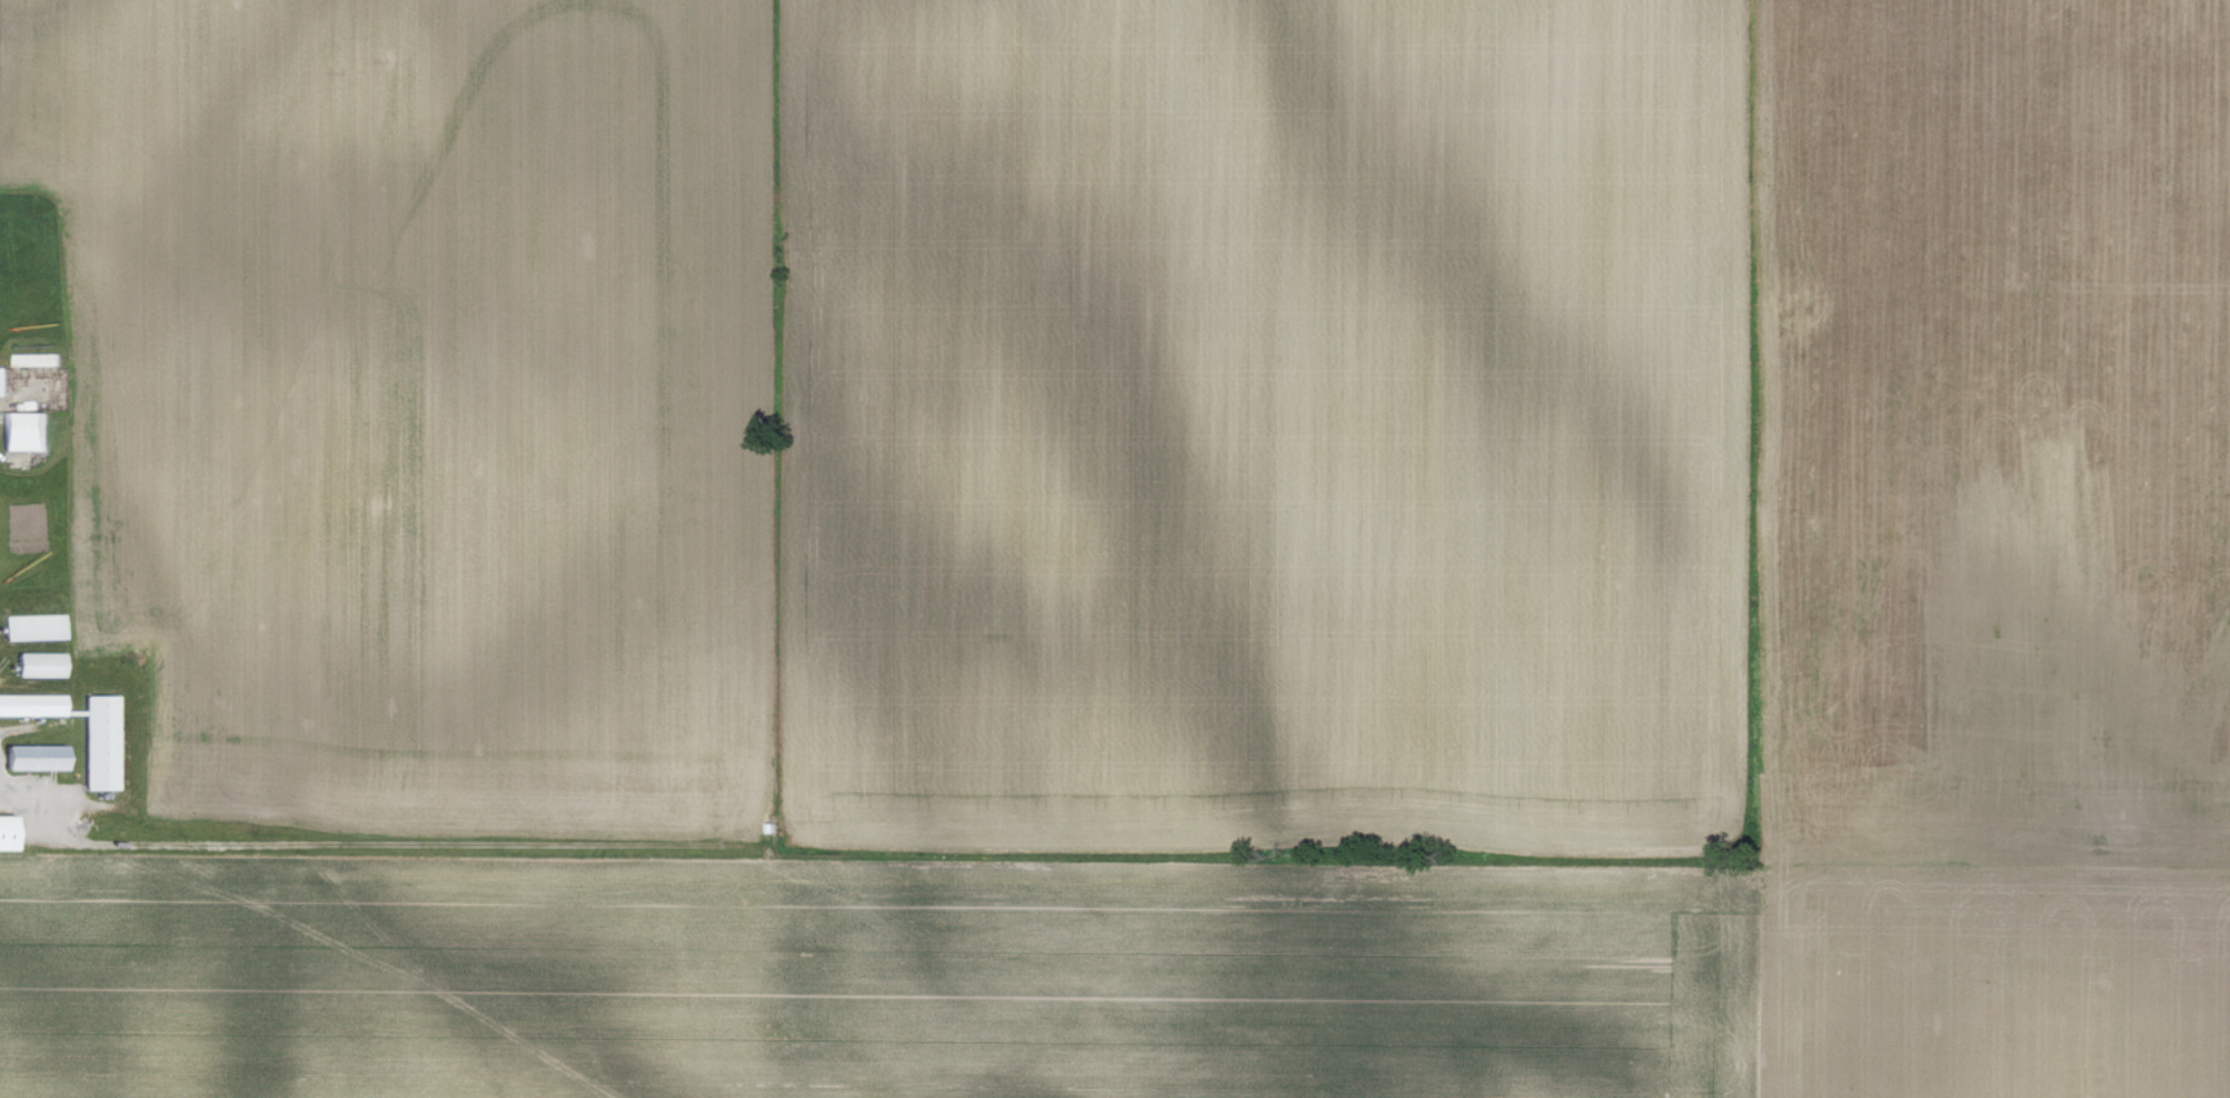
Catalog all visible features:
building: (24, 431)
building: (34, 627)
building: (41, 665)
building: (32, 703)
building: (101, 742)
building: (38, 757)
building: (8, 832)

